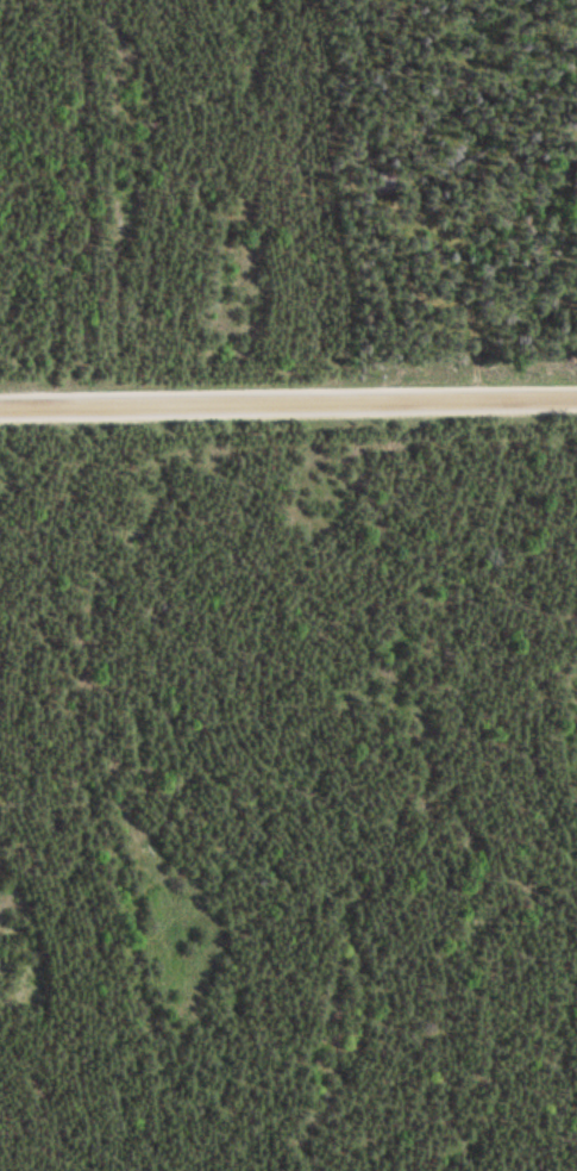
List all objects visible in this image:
road: (288, 411)

